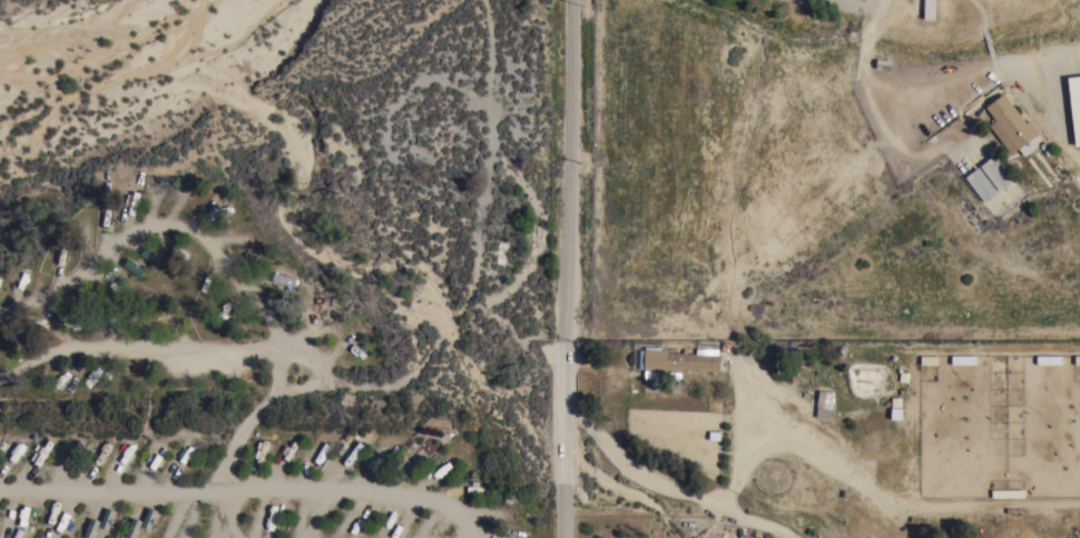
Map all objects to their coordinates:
road: (855, 6)
building: (929, 9)
building: (1074, 107)
building: (1011, 127)
building: (995, 173)
building: (981, 185)
building: (131, 266)
road: (570, 269)
building: (282, 279)
building: (347, 345)
building: (681, 360)
building: (824, 405)
building: (14, 450)
road: (675, 484)
road: (249, 491)
building: (1008, 494)

